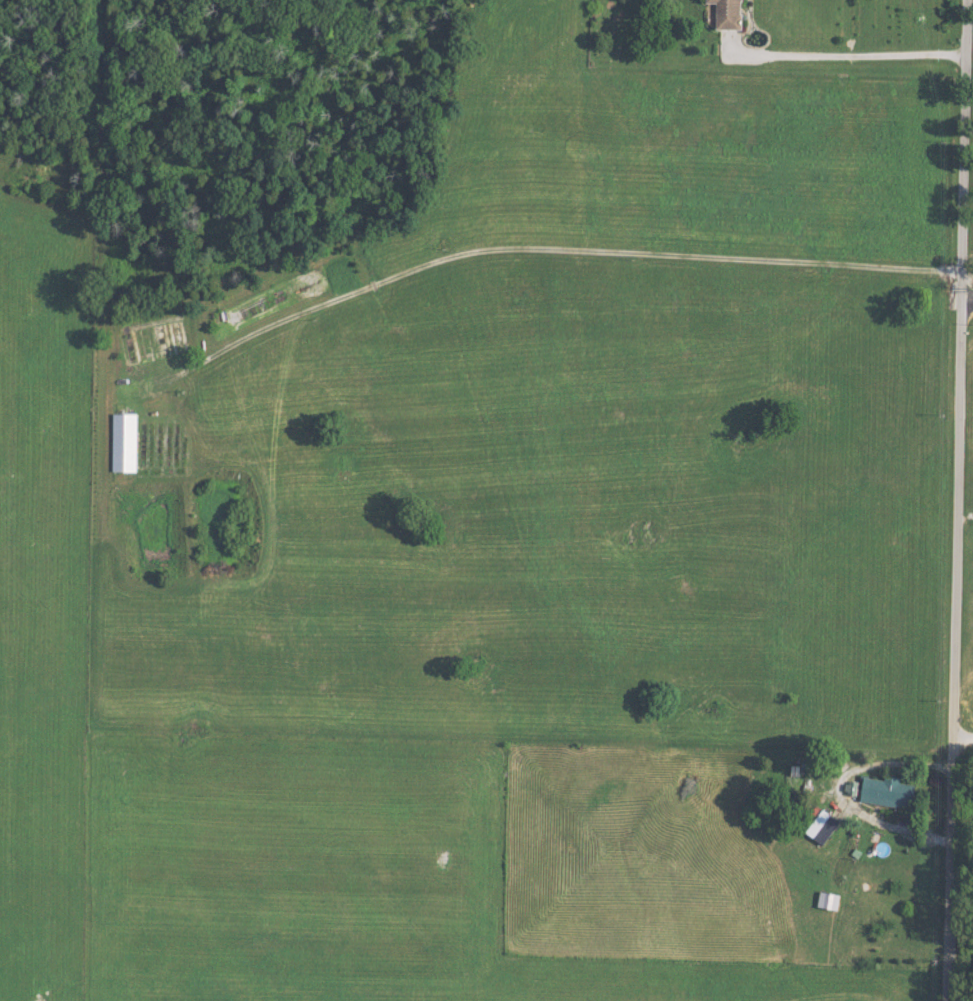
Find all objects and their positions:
building: (732, 14)
road: (859, 55)
road: (565, 254)
building: (272, 300)
building: (151, 342)
building: (125, 442)
road: (967, 500)
building: (888, 792)
road: (845, 793)
building: (815, 825)
building: (824, 901)

